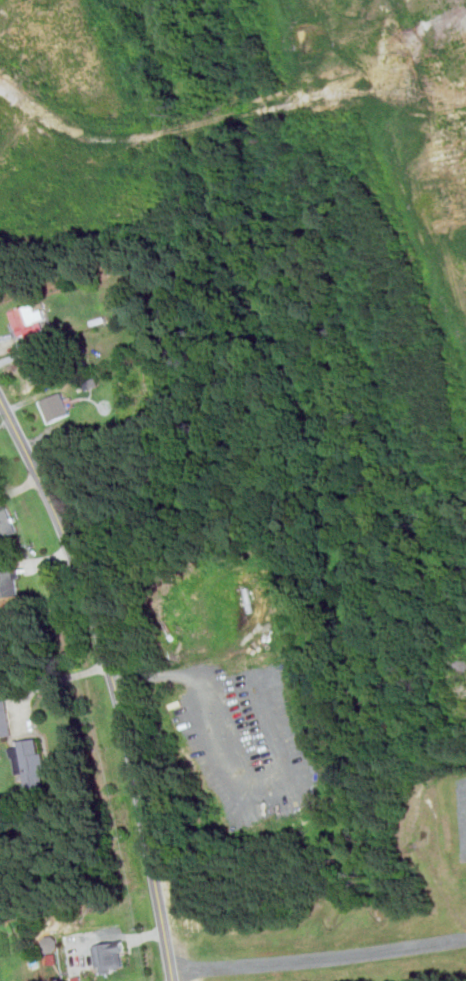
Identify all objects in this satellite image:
building: (31, 322)
building: (44, 370)
building: (56, 406)
building: (7, 522)
building: (10, 583)
road: (199, 672)
road: (58, 678)
road: (114, 680)
building: (5, 717)
building: (30, 762)
building: (51, 943)
road: (319, 955)
building: (112, 956)

